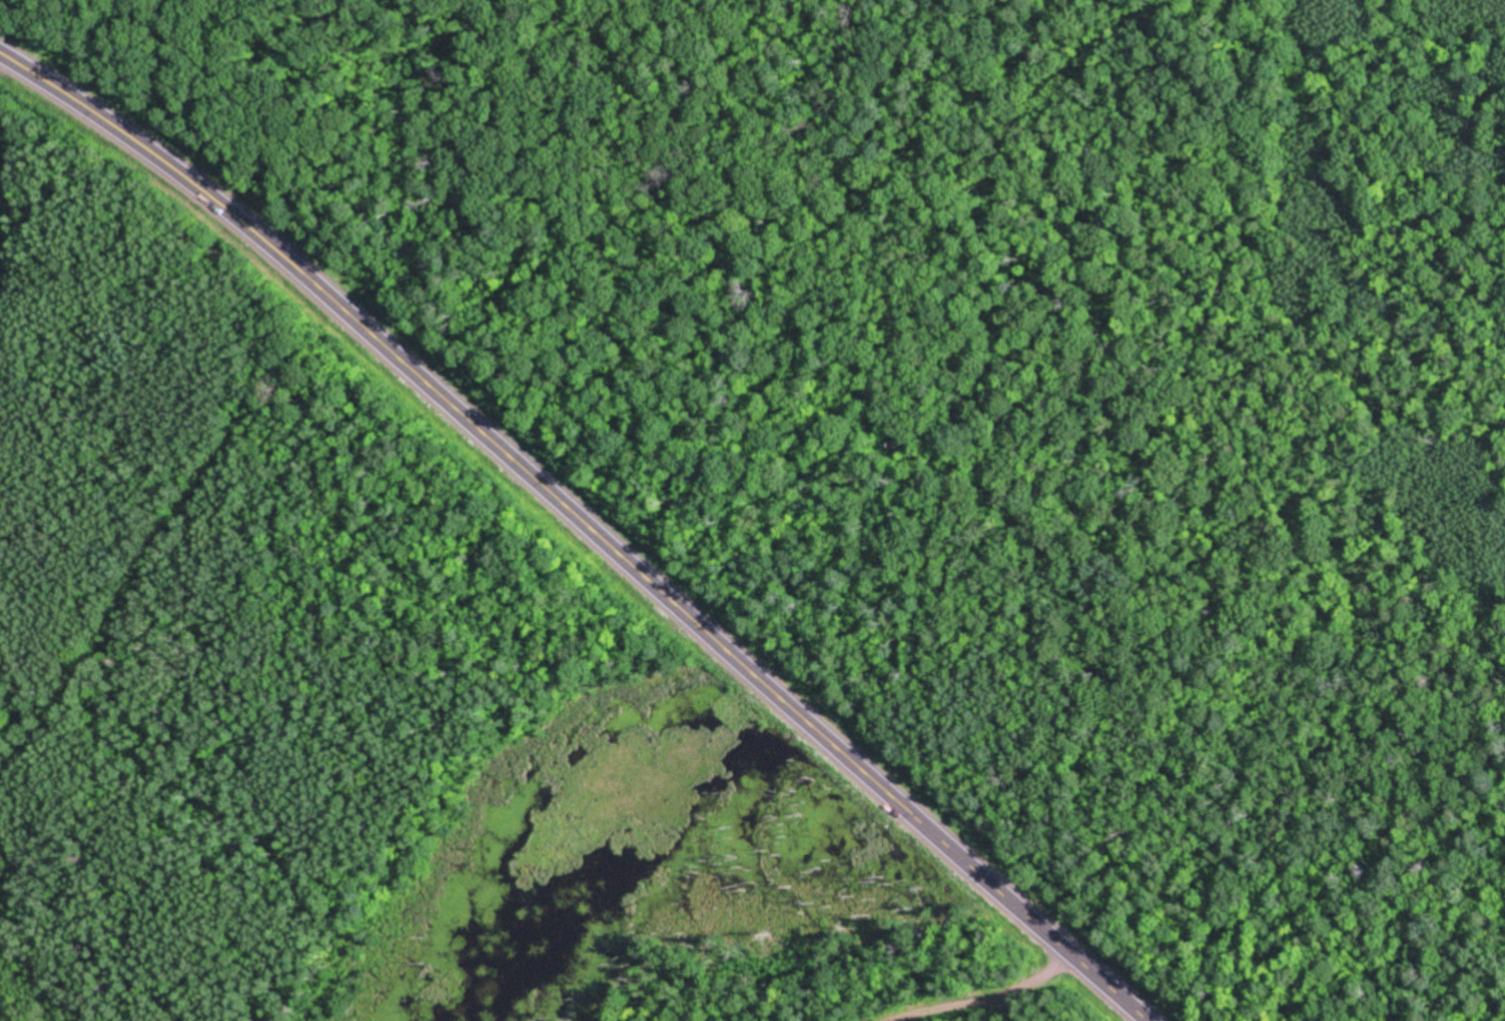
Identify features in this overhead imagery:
road: (585, 521)

